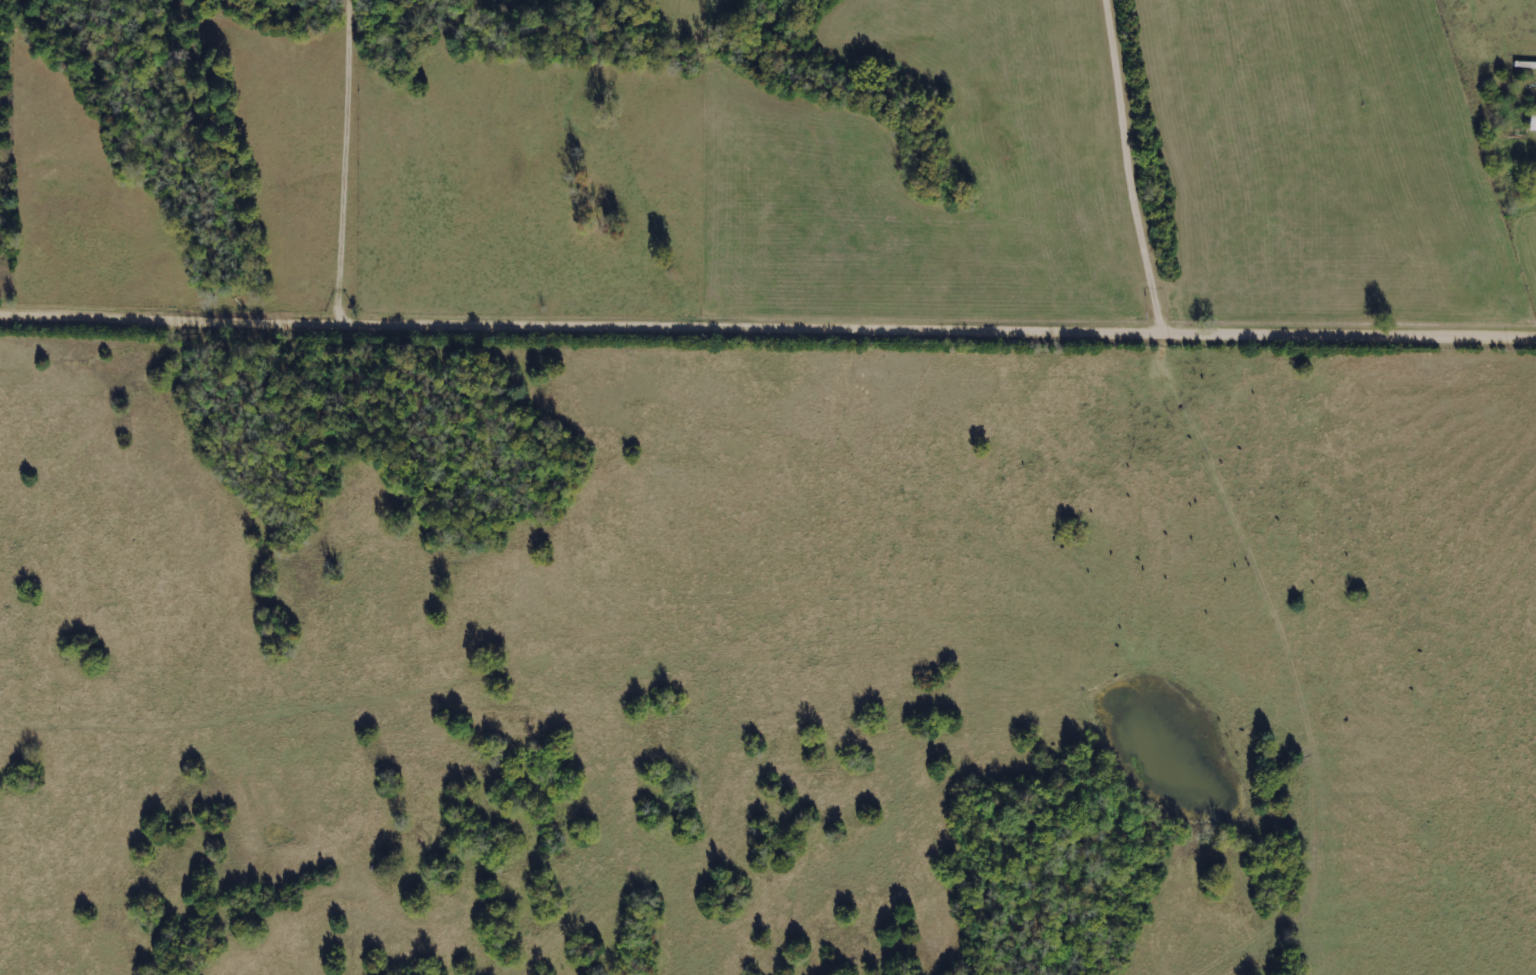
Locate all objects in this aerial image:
building: (1532, 121)
road: (767, 324)

